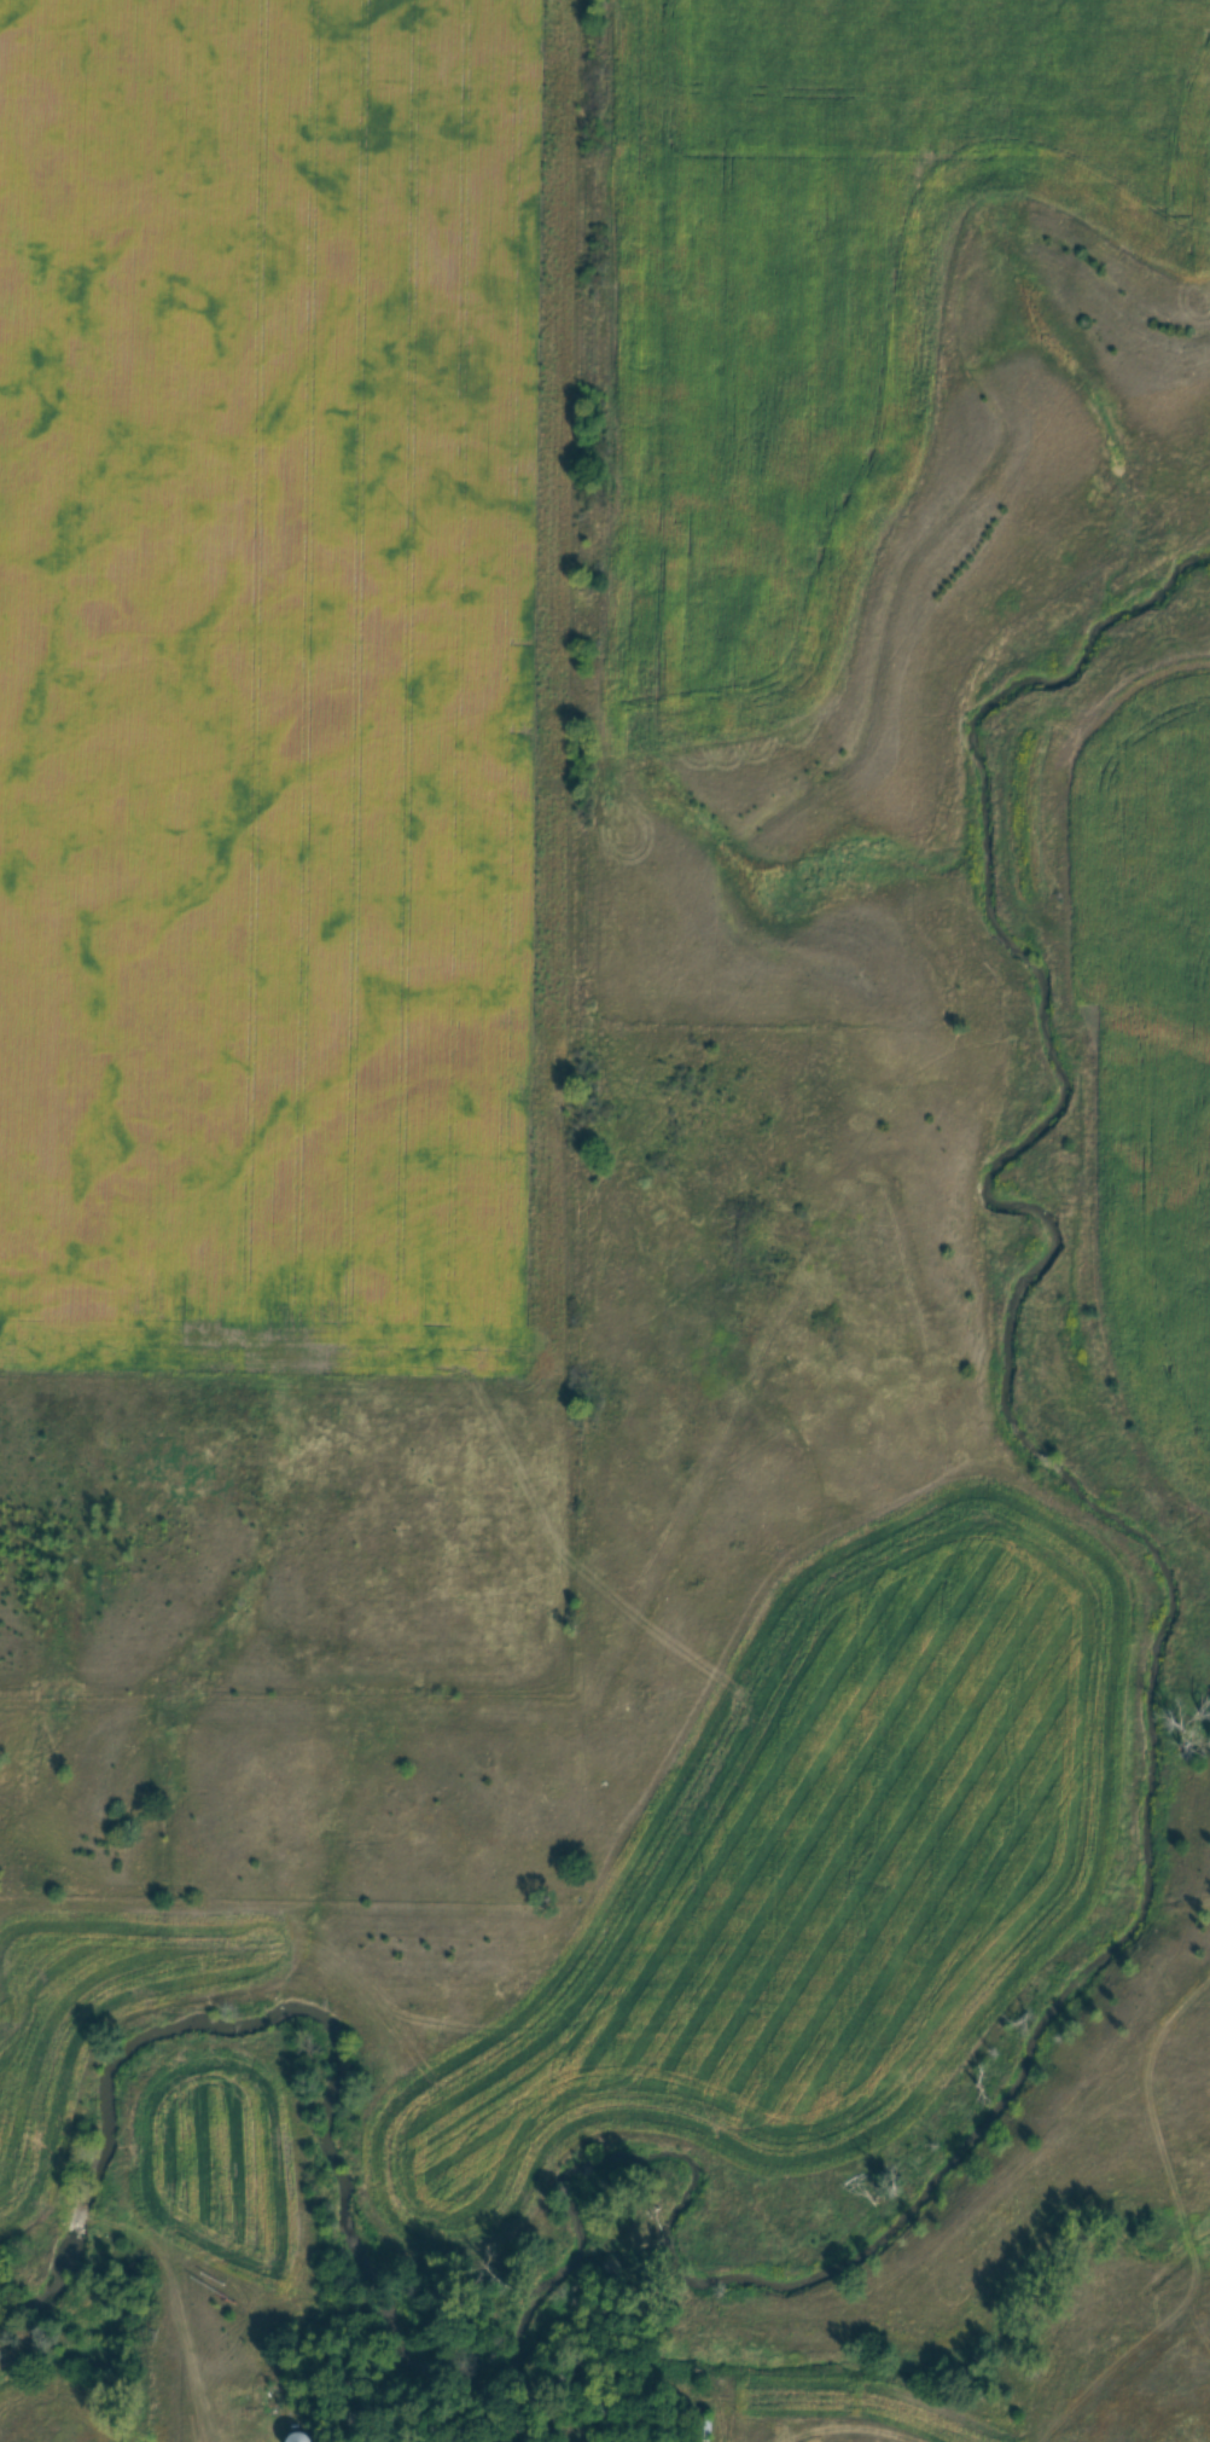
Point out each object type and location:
road: (982, 2420)
building: (298, 2438)

